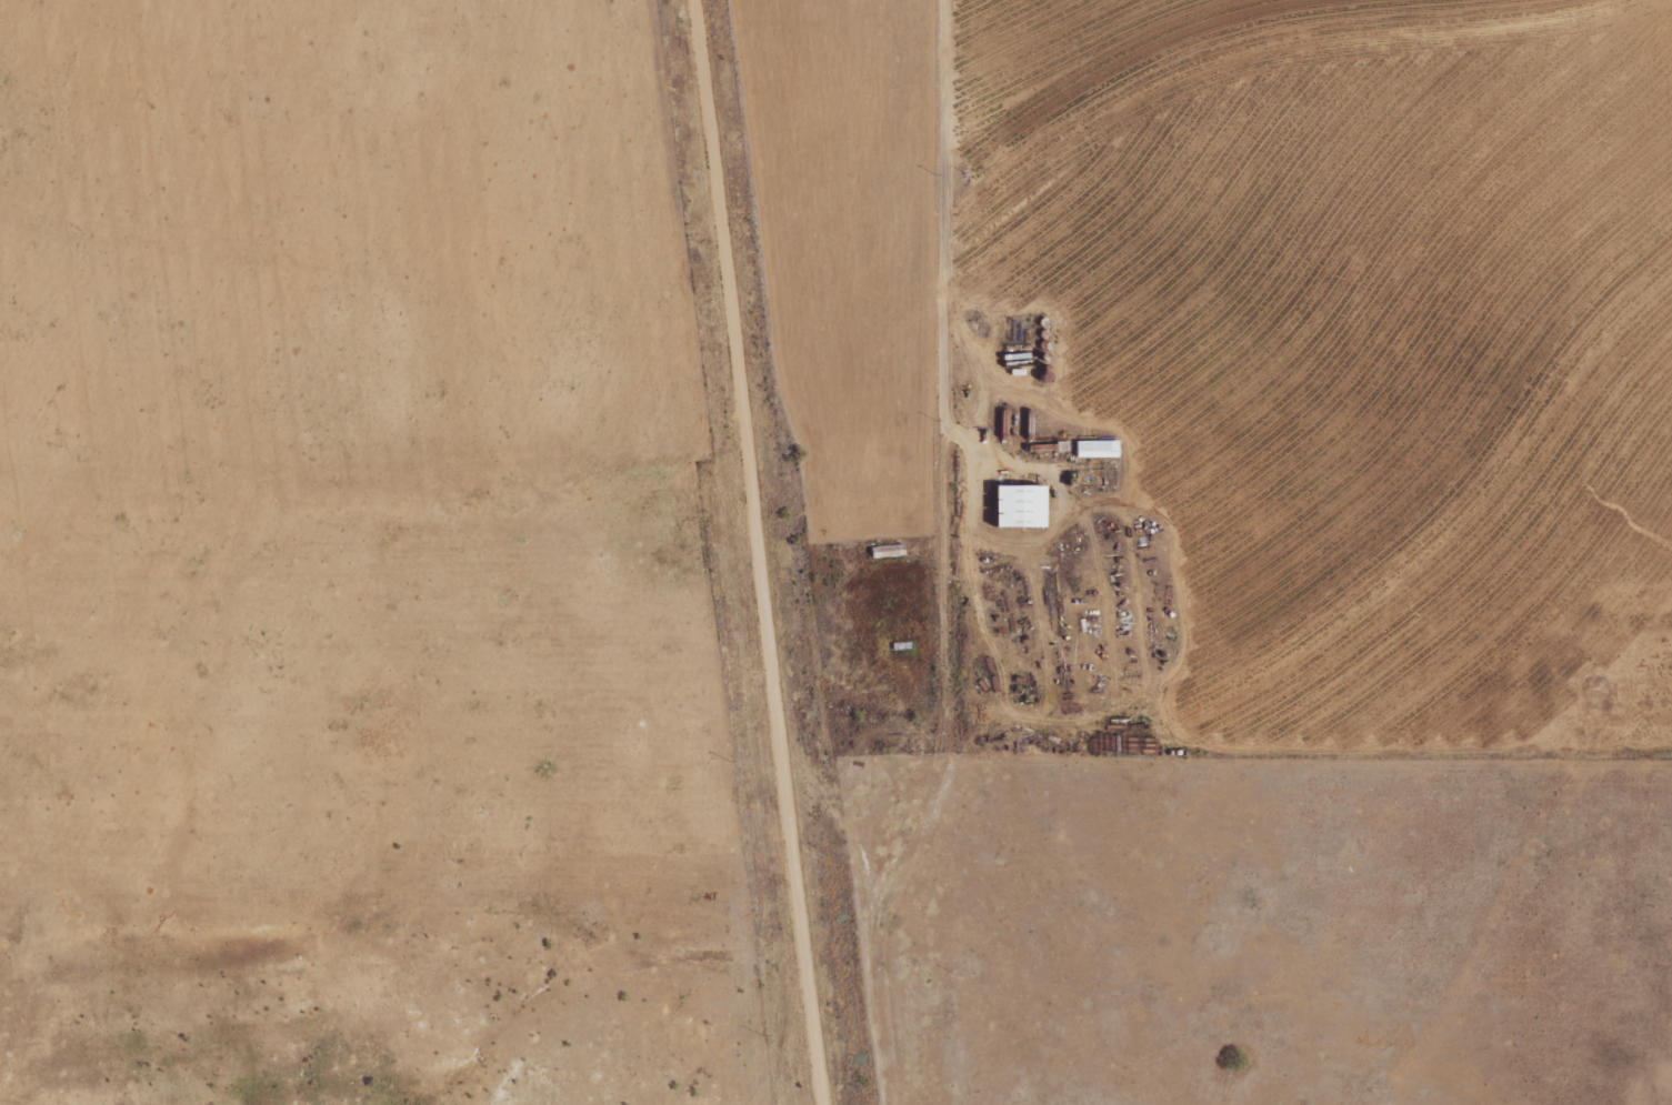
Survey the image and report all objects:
building: (1093, 449)
building: (1012, 506)
railway: (737, 552)
road: (918, 563)

